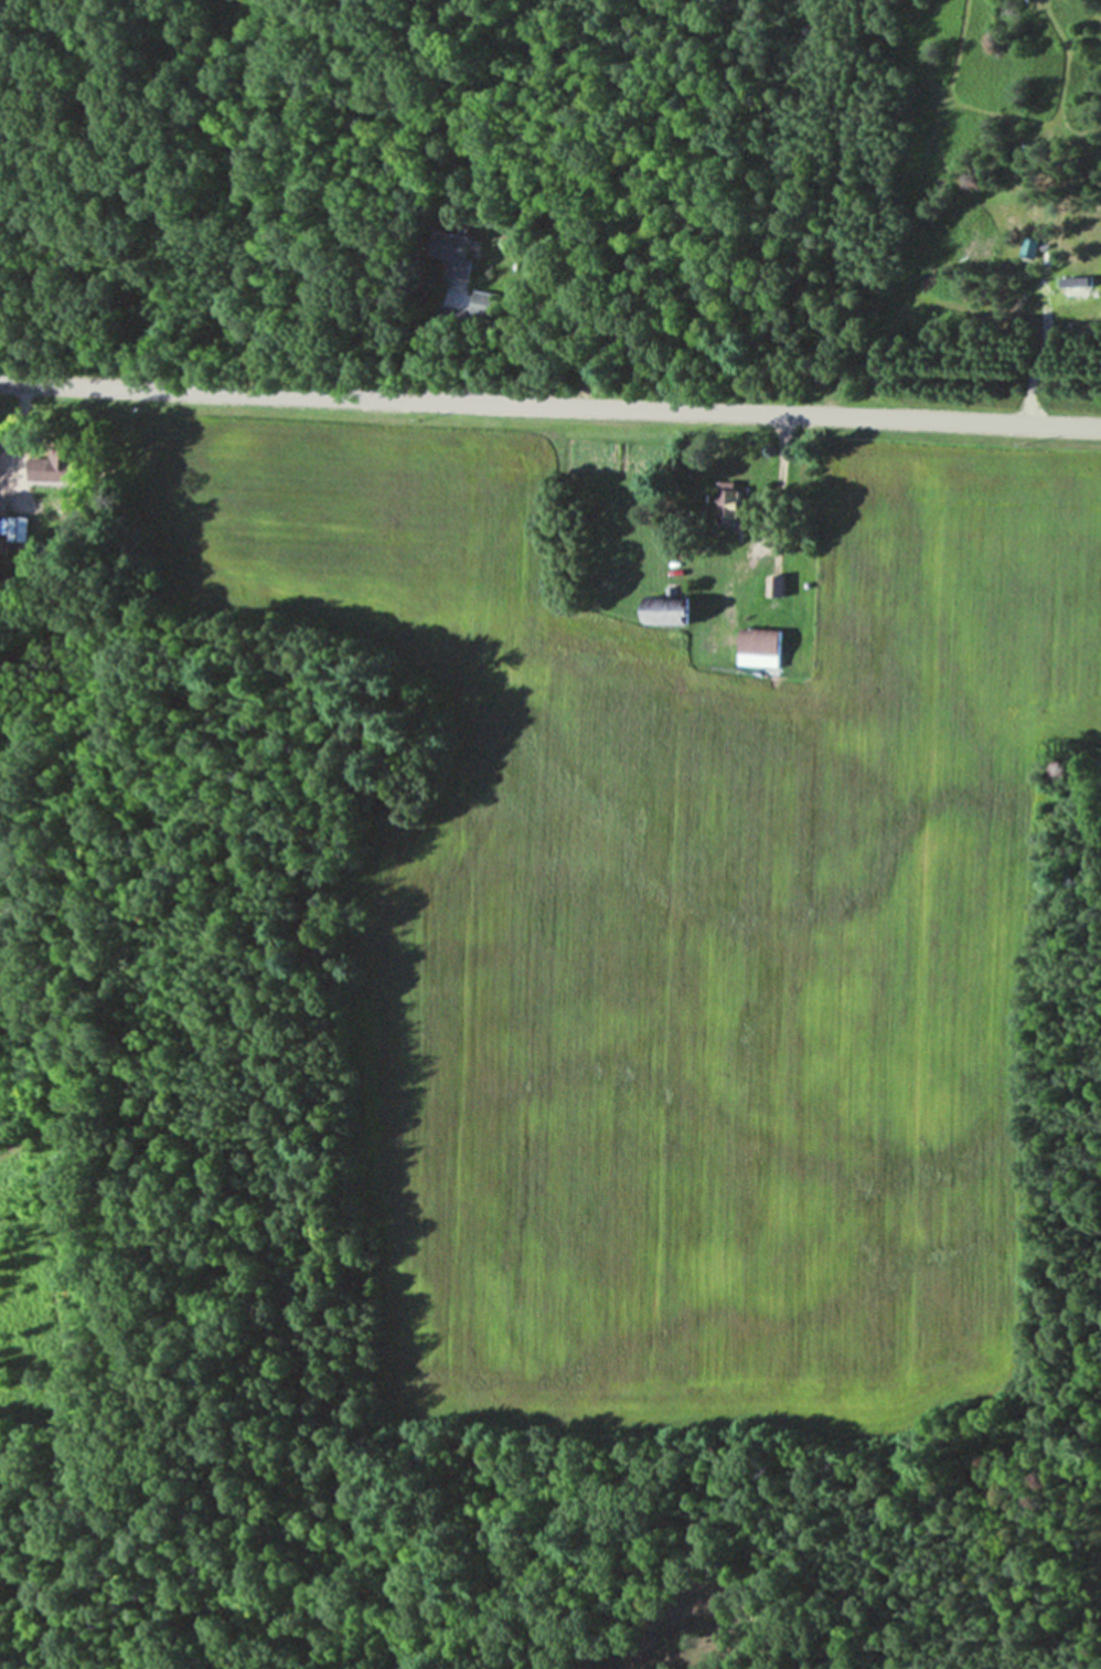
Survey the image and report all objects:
road: (550, 406)
road: (15, 436)
building: (66, 465)
road: (776, 475)
building: (729, 496)
building: (14, 530)
building: (763, 641)

